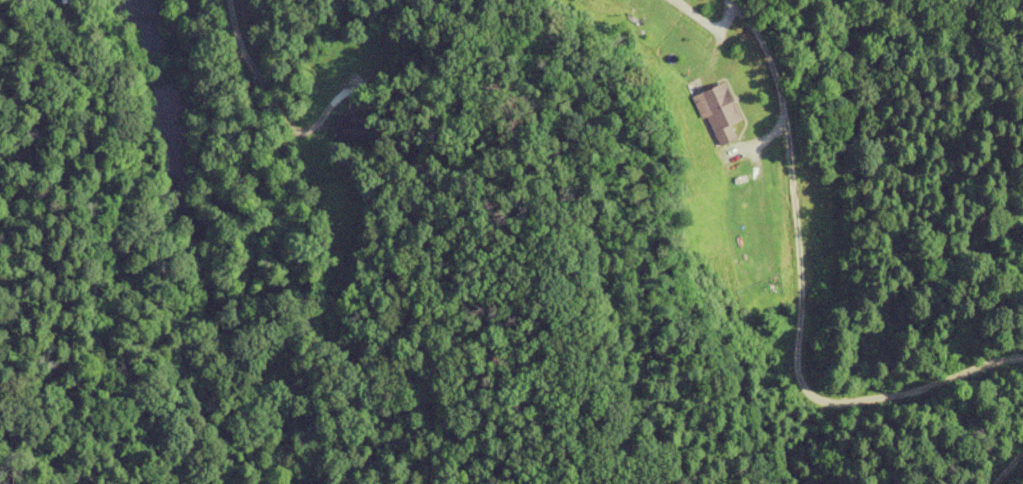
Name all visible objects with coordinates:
road: (258, 69)
building: (716, 113)
building: (348, 129)
road: (795, 296)

